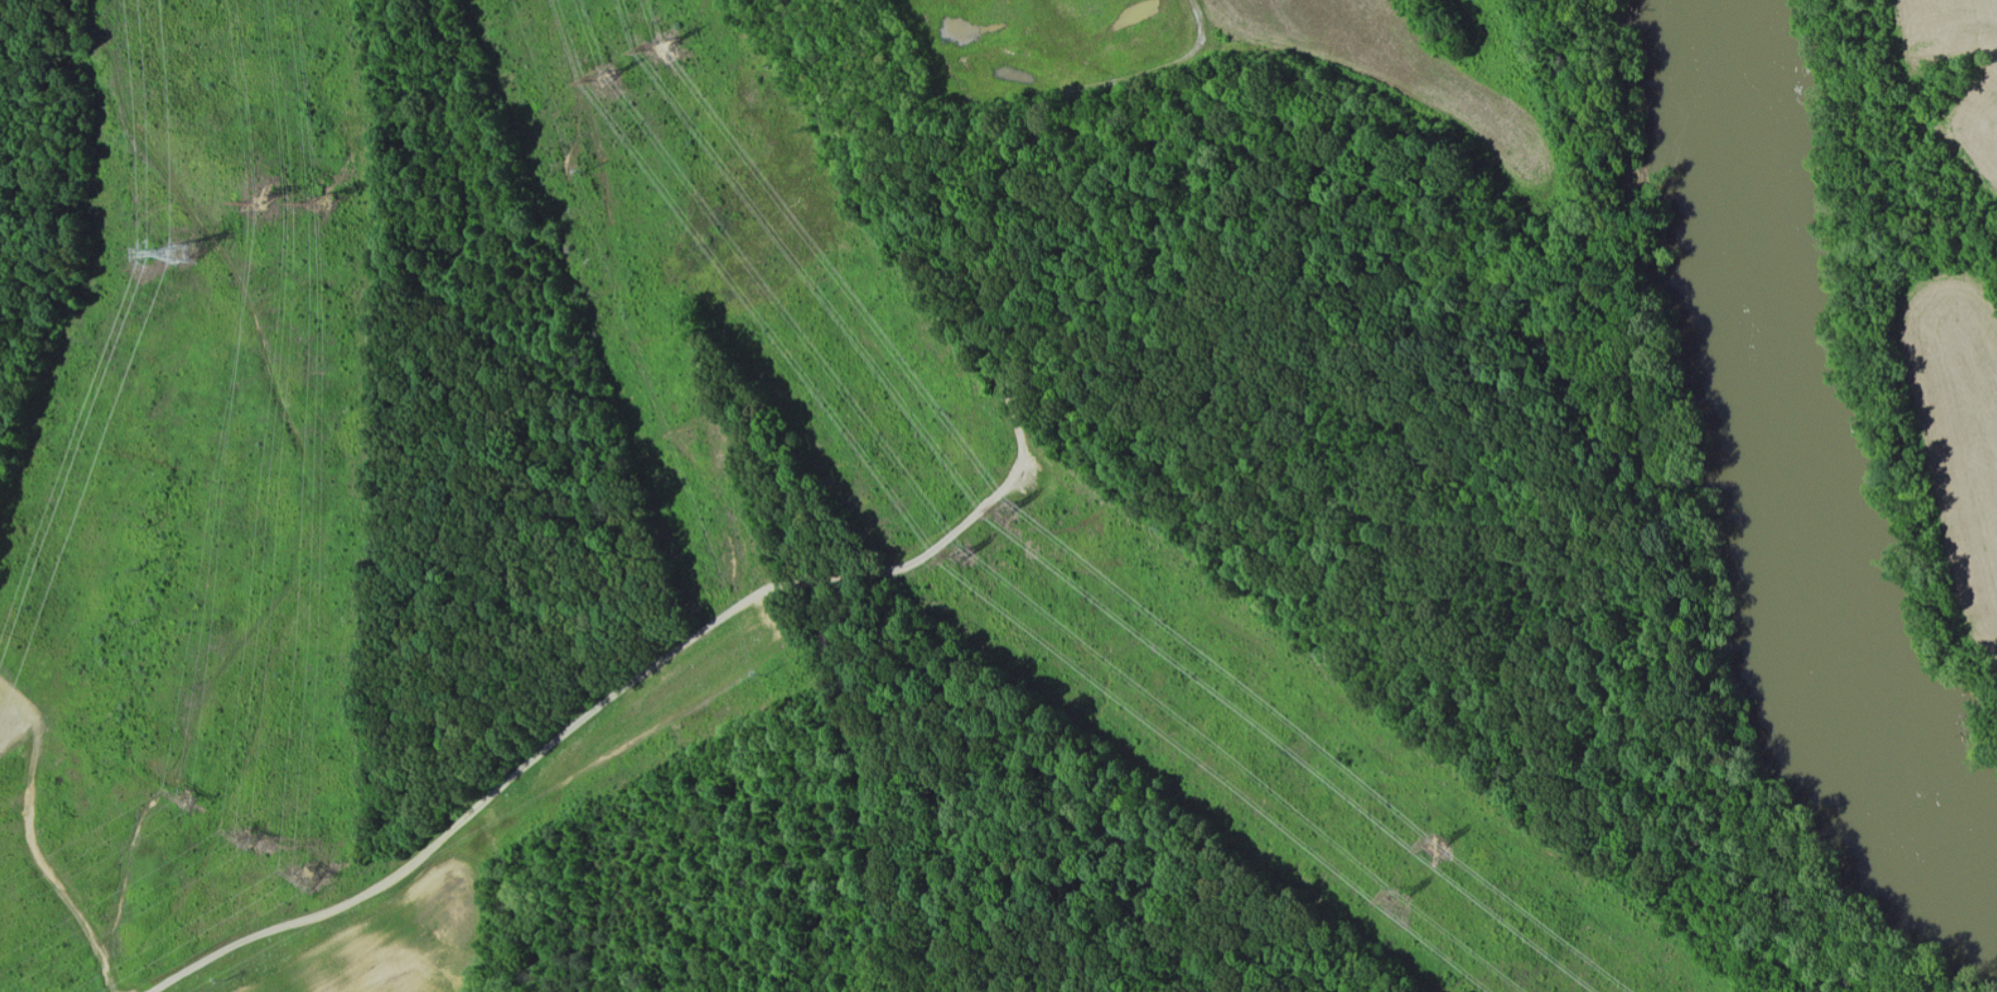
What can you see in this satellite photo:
power tower: (660, 46)
power tower: (601, 77)
power tower: (262, 201)
power tower: (329, 204)
power tower: (195, 249)
river: (1794, 473)
power tower: (1002, 510)
power tower: (956, 554)
power tower: (184, 799)
power tower: (242, 840)
power tower: (1434, 845)
power tower: (1396, 898)

